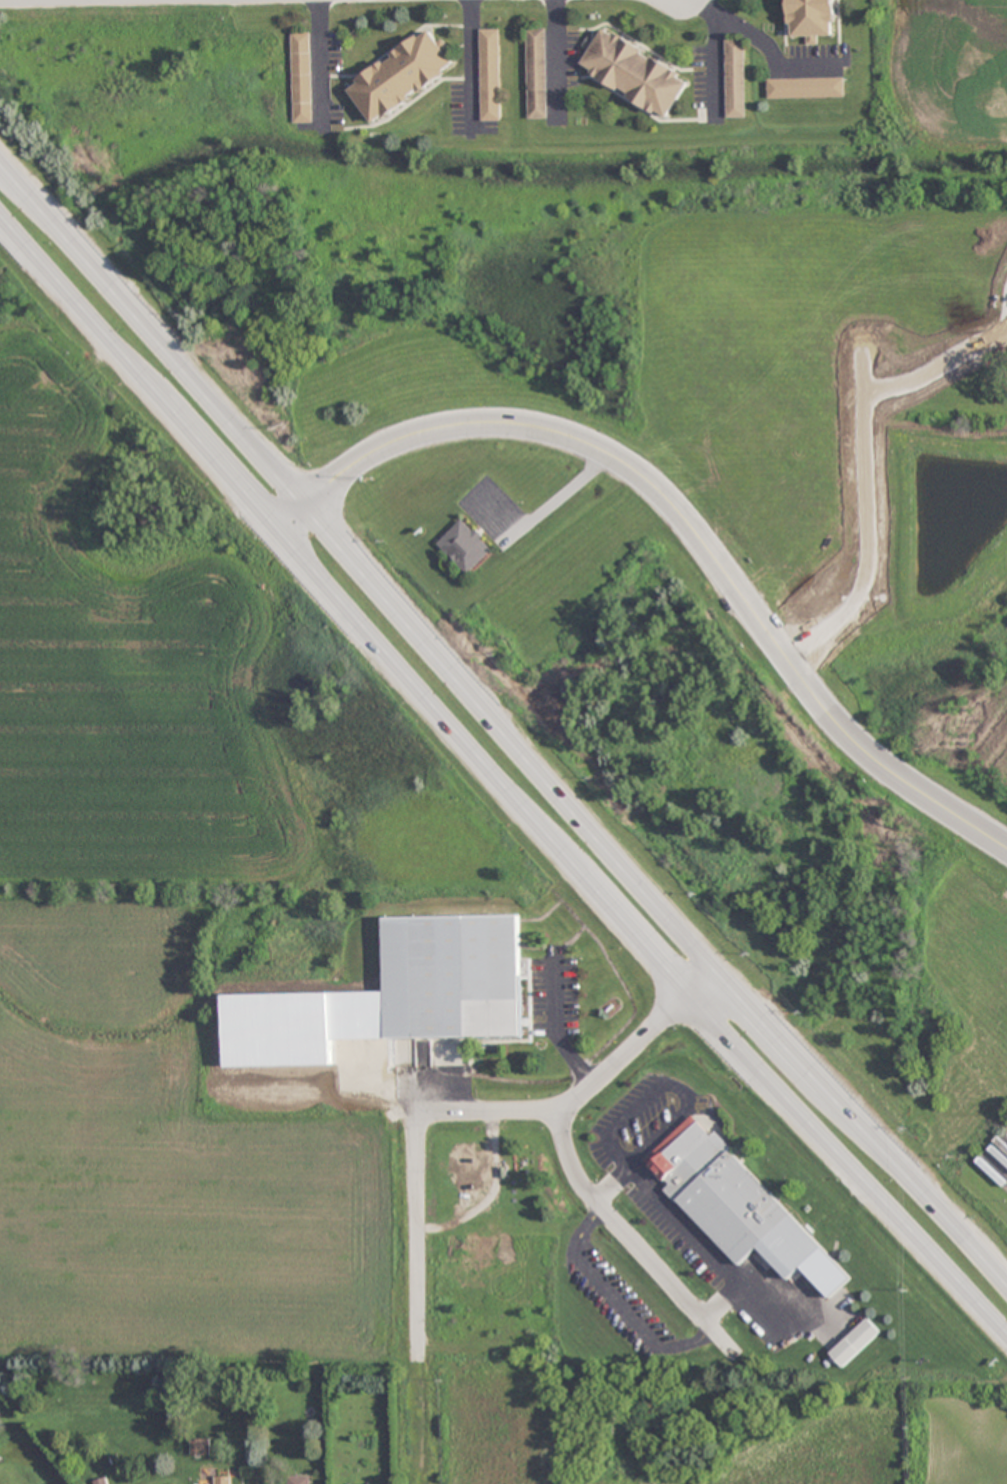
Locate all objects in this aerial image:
road: (49, 1)
road: (52, 1)
building: (810, 19)
road: (764, 47)
road: (554, 59)
road: (471, 60)
road: (311, 62)
road: (716, 63)
crop: (941, 69)
building: (536, 73)
building: (633, 73)
building: (489, 75)
building: (400, 76)
building: (301, 77)
building: (734, 78)
building: (804, 88)
road: (859, 319)
road: (937, 355)
road: (865, 515)
road: (683, 519)
building: (465, 546)
road: (497, 730)
road: (495, 777)
crop: (182, 885)
building: (454, 977)
road: (559, 1024)
road: (468, 1113)
building: (468, 1170)
building: (493, 1170)
building: (730, 1200)
road: (639, 1250)
building: (832, 1298)
road: (615, 1300)
crop: (698, 1428)
building: (224, 1480)
building: (298, 1480)

